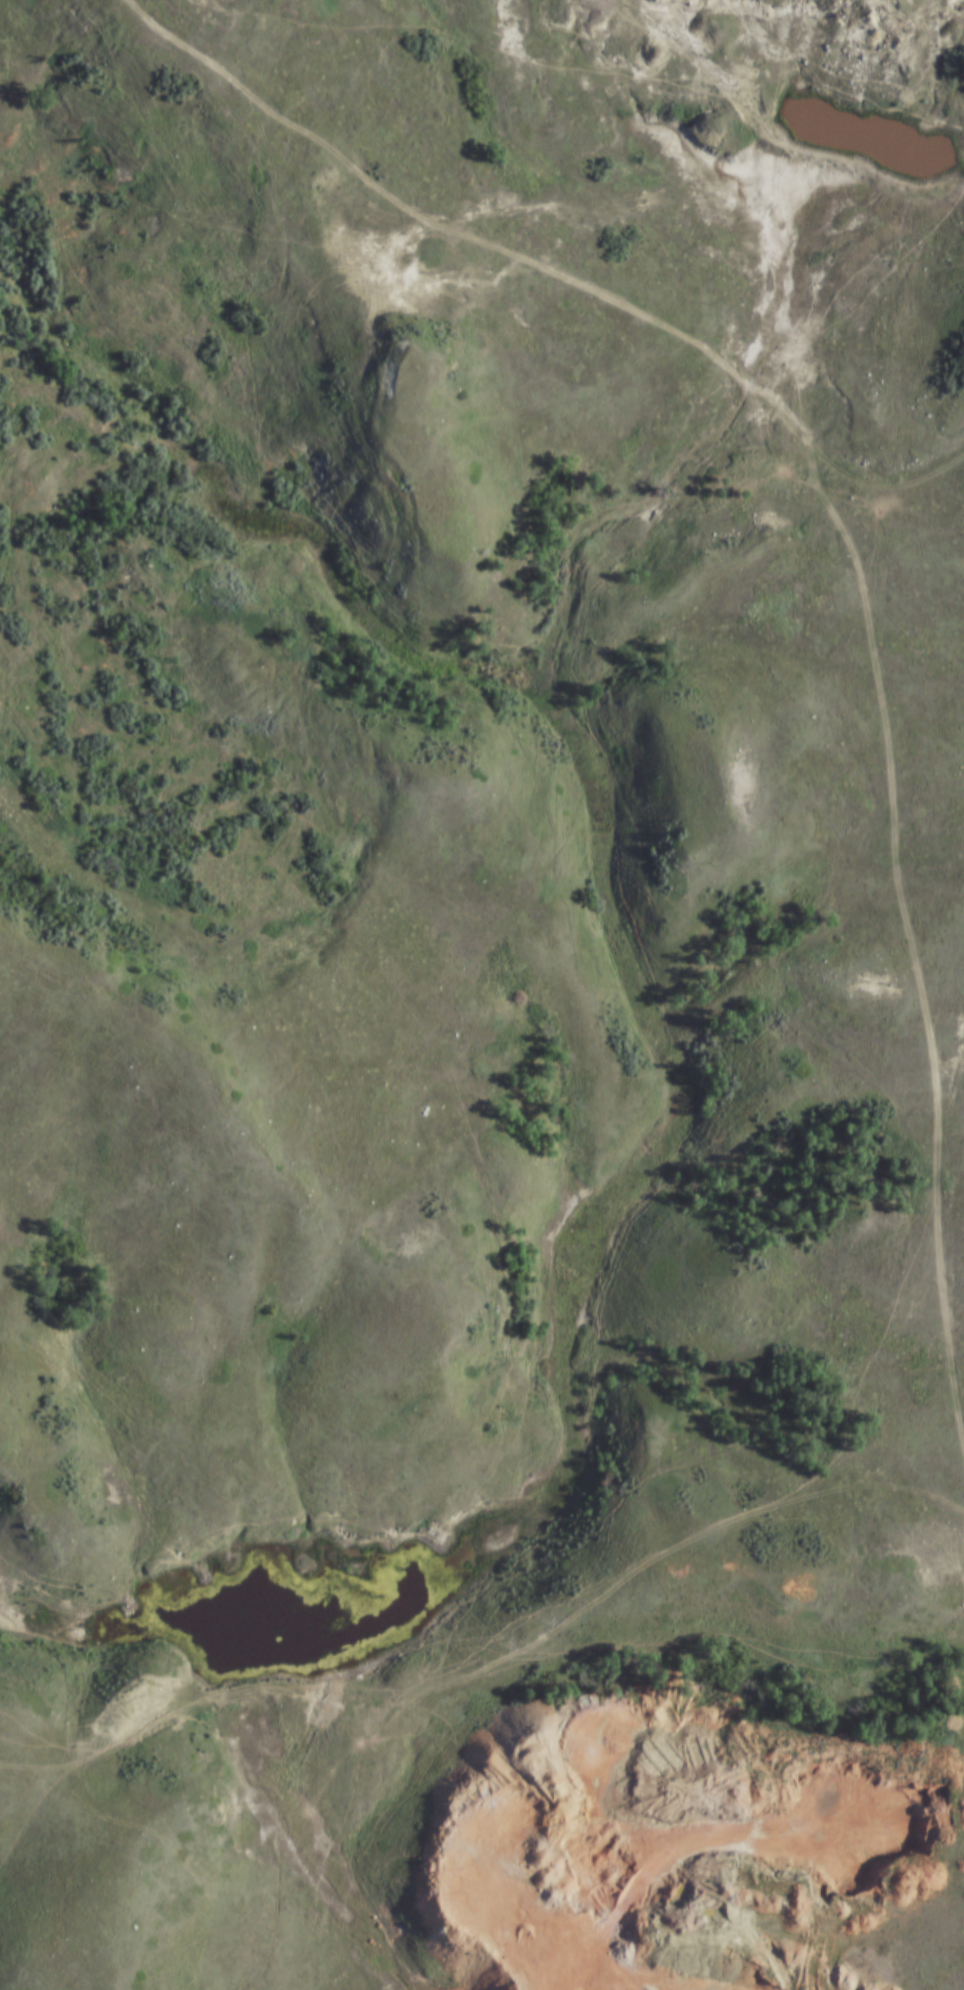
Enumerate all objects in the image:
road: (859, 558)
road: (952, 852)

